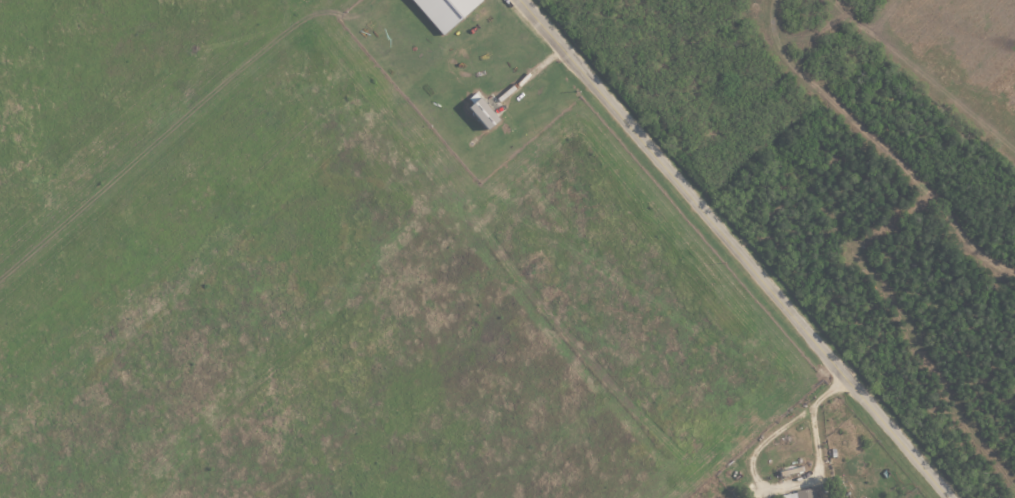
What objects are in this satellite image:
building: (444, 11)
building: (481, 113)
road: (737, 248)
road: (394, 260)
road: (788, 484)

